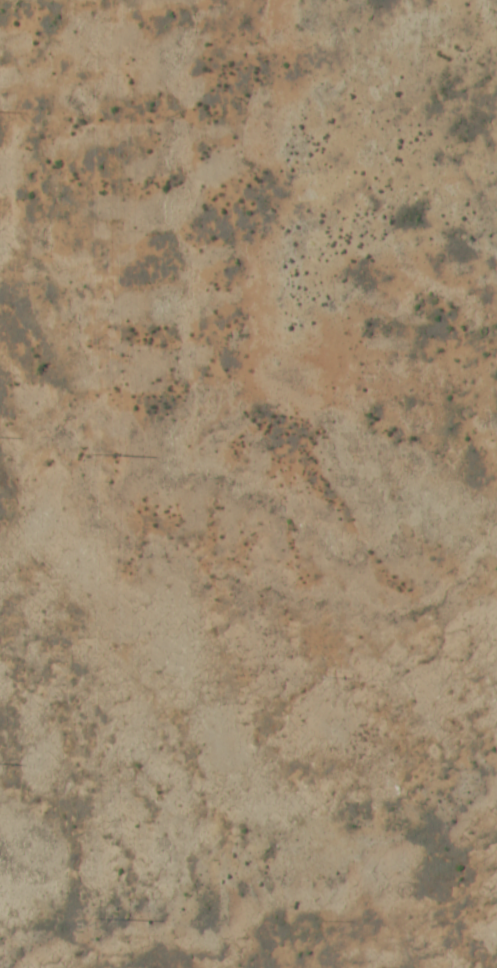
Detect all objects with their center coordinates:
power tower: (99, 453)
power tower: (99, 918)

